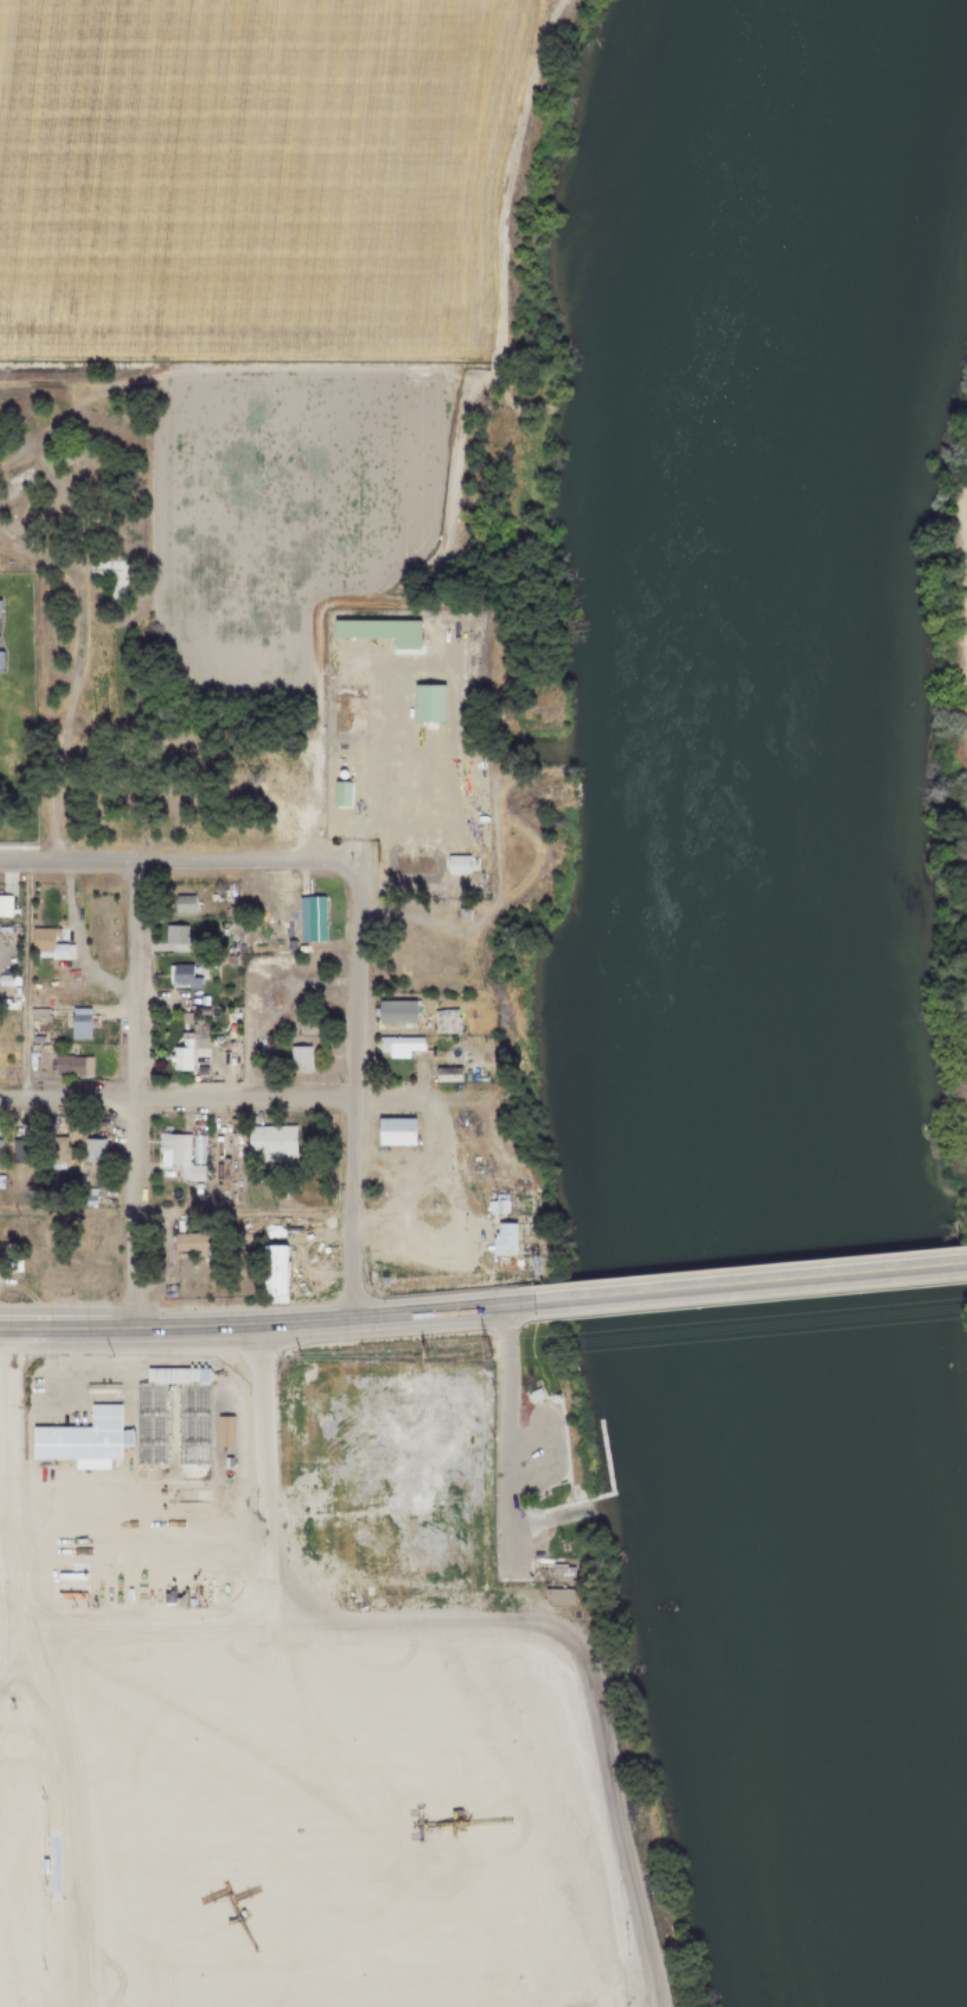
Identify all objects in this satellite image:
crop: (251, 172)
road: (454, 475)
crop: (282, 513)
road: (35, 554)
building: (112, 579)
building: (0, 610)
building: (1, 660)
building: (426, 702)
road: (423, 759)
road: (329, 766)
building: (339, 793)
road: (451, 828)
road: (176, 861)
building: (455, 863)
building: (182, 905)
building: (4, 906)
building: (460, 915)
building: (309, 918)
building: (288, 921)
building: (3, 930)
building: (173, 939)
building: (47, 944)
building: (288, 944)
building: (299, 949)
building: (227, 960)
building: (34, 961)
building: (180, 974)
road: (23, 980)
building: (5, 981)
river: (751, 991)
building: (12, 996)
building: (193, 1001)
building: (206, 1001)
building: (208, 1011)
building: (394, 1012)
building: (38, 1014)
building: (443, 1021)
building: (78, 1029)
building: (34, 1039)
building: (396, 1045)
building: (179, 1056)
building: (454, 1056)
building: (296, 1057)
building: (30, 1061)
building: (70, 1066)
building: (445, 1075)
road: (128, 1095)
road: (352, 1097)
road: (233, 1099)
building: (393, 1132)
building: (270, 1143)
building: (92, 1149)
building: (11, 1151)
building: (22, 1151)
building: (1, 1153)
building: (58, 1154)
building: (175, 1156)
building: (78, 1179)
building: (0, 1182)
road: (426, 1187)
building: (86, 1196)
building: (494, 1207)
road: (174, 1210)
building: (502, 1240)
building: (189, 1243)
building: (515, 1263)
building: (292, 1265)
building: (15, 1266)
building: (272, 1271)
road: (864, 1272)
building: (8, 1286)
road: (646, 1291)
road: (265, 1324)
building: (177, 1374)
building: (103, 1387)
parking lot: (58, 1392)
building: (531, 1394)
road: (55, 1397)
building: (290, 1397)
road: (108, 1398)
building: (223, 1406)
road: (129, 1413)
building: (150, 1423)
building: (193, 1423)
building: (225, 1430)
road: (553, 1435)
building: (84, 1437)
road: (129, 1437)
road: (531, 1440)
road: (504, 1441)
road: (510, 1442)
road: (263, 1445)
parking lot: (538, 1448)
road: (532, 1449)
building: (602, 1455)
road: (171, 1456)
road: (532, 1457)
building: (228, 1461)
road: (533, 1465)
road: (129, 1466)
road: (533, 1472)
road: (101, 1487)
park: (543, 1498)
road: (549, 1518)
road: (518, 1536)
road: (5, 1541)
park: (564, 1541)
road: (135, 1556)
building: (561, 1573)
road: (3, 1578)
building: (160, 1578)
road: (3, 1592)
building: (556, 1596)
building: (342, 1597)
road: (583, 1658)
road: (54, 1704)
road: (33, 1899)

